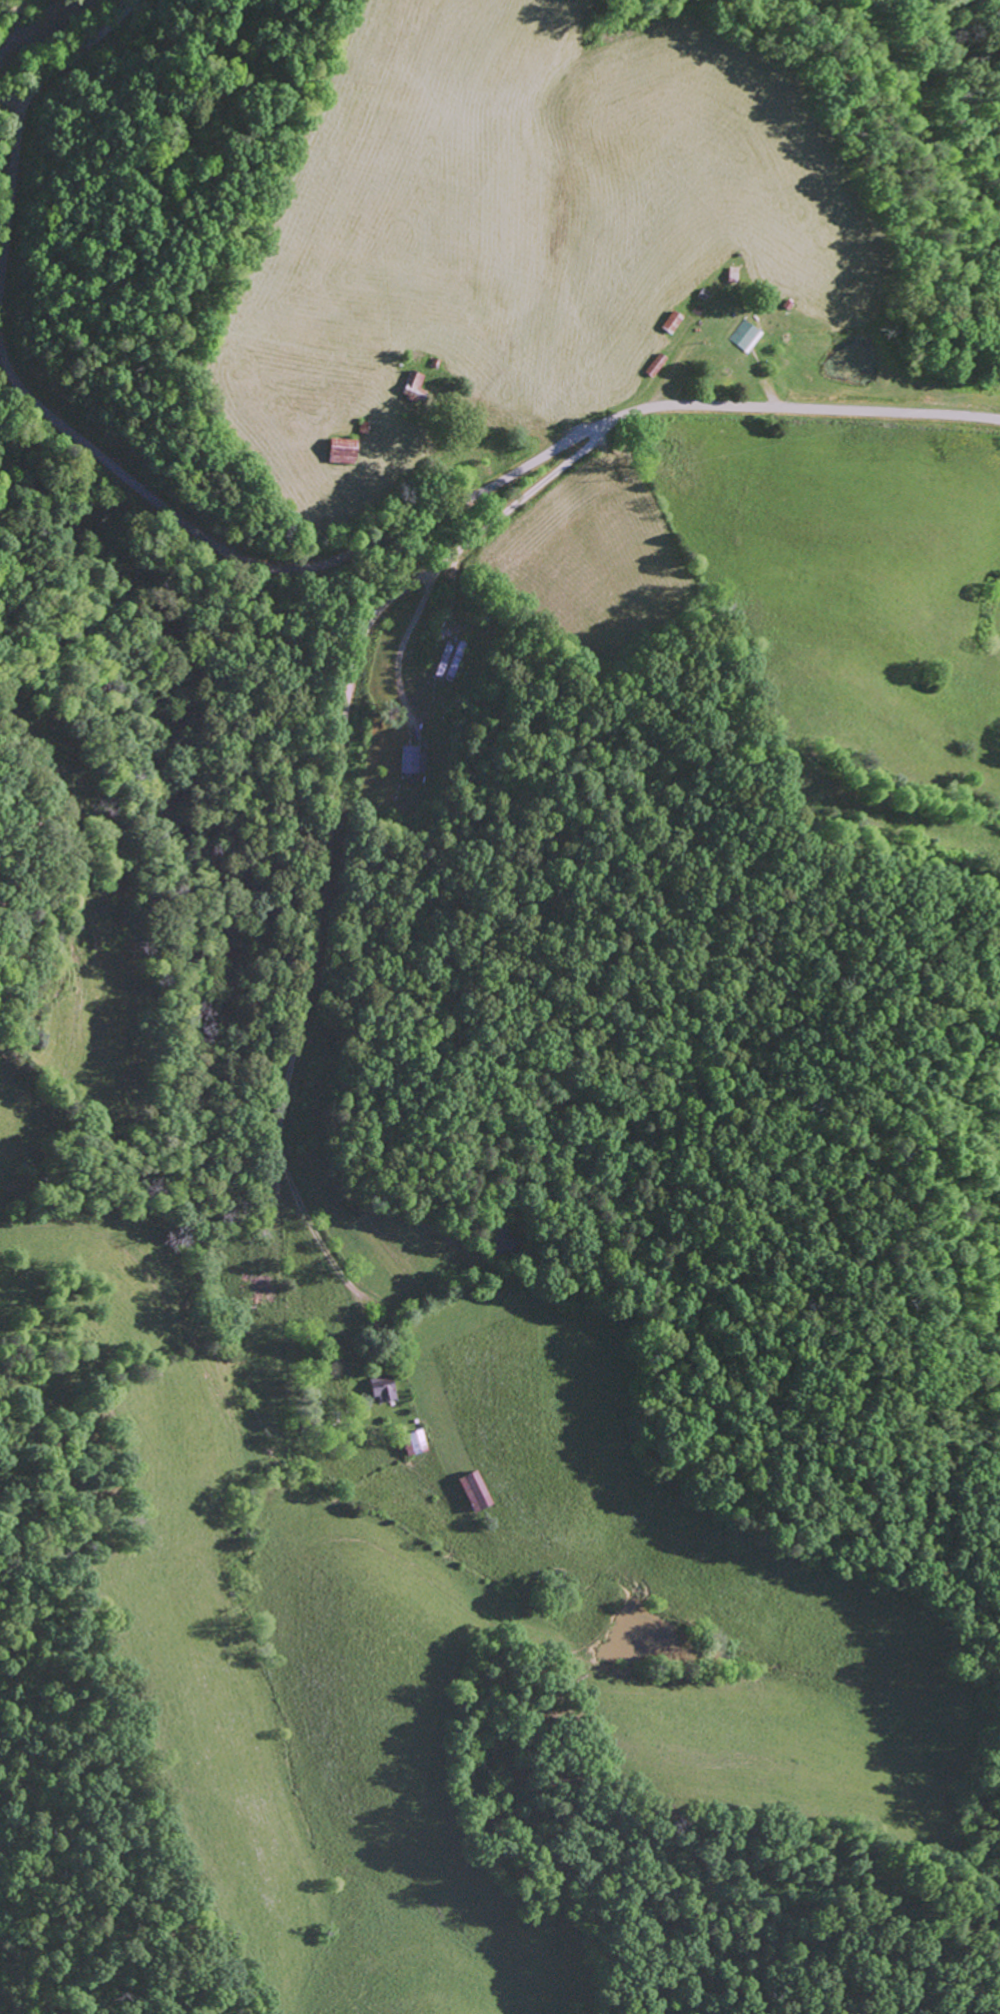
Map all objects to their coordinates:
road: (14, 97)
road: (19, 119)
building: (670, 321)
building: (745, 335)
building: (654, 364)
building: (414, 386)
building: (340, 450)
road: (458, 499)
building: (447, 662)
building: (411, 760)
road: (322, 935)
building: (257, 1283)
building: (382, 1388)
building: (415, 1441)
building: (473, 1490)

